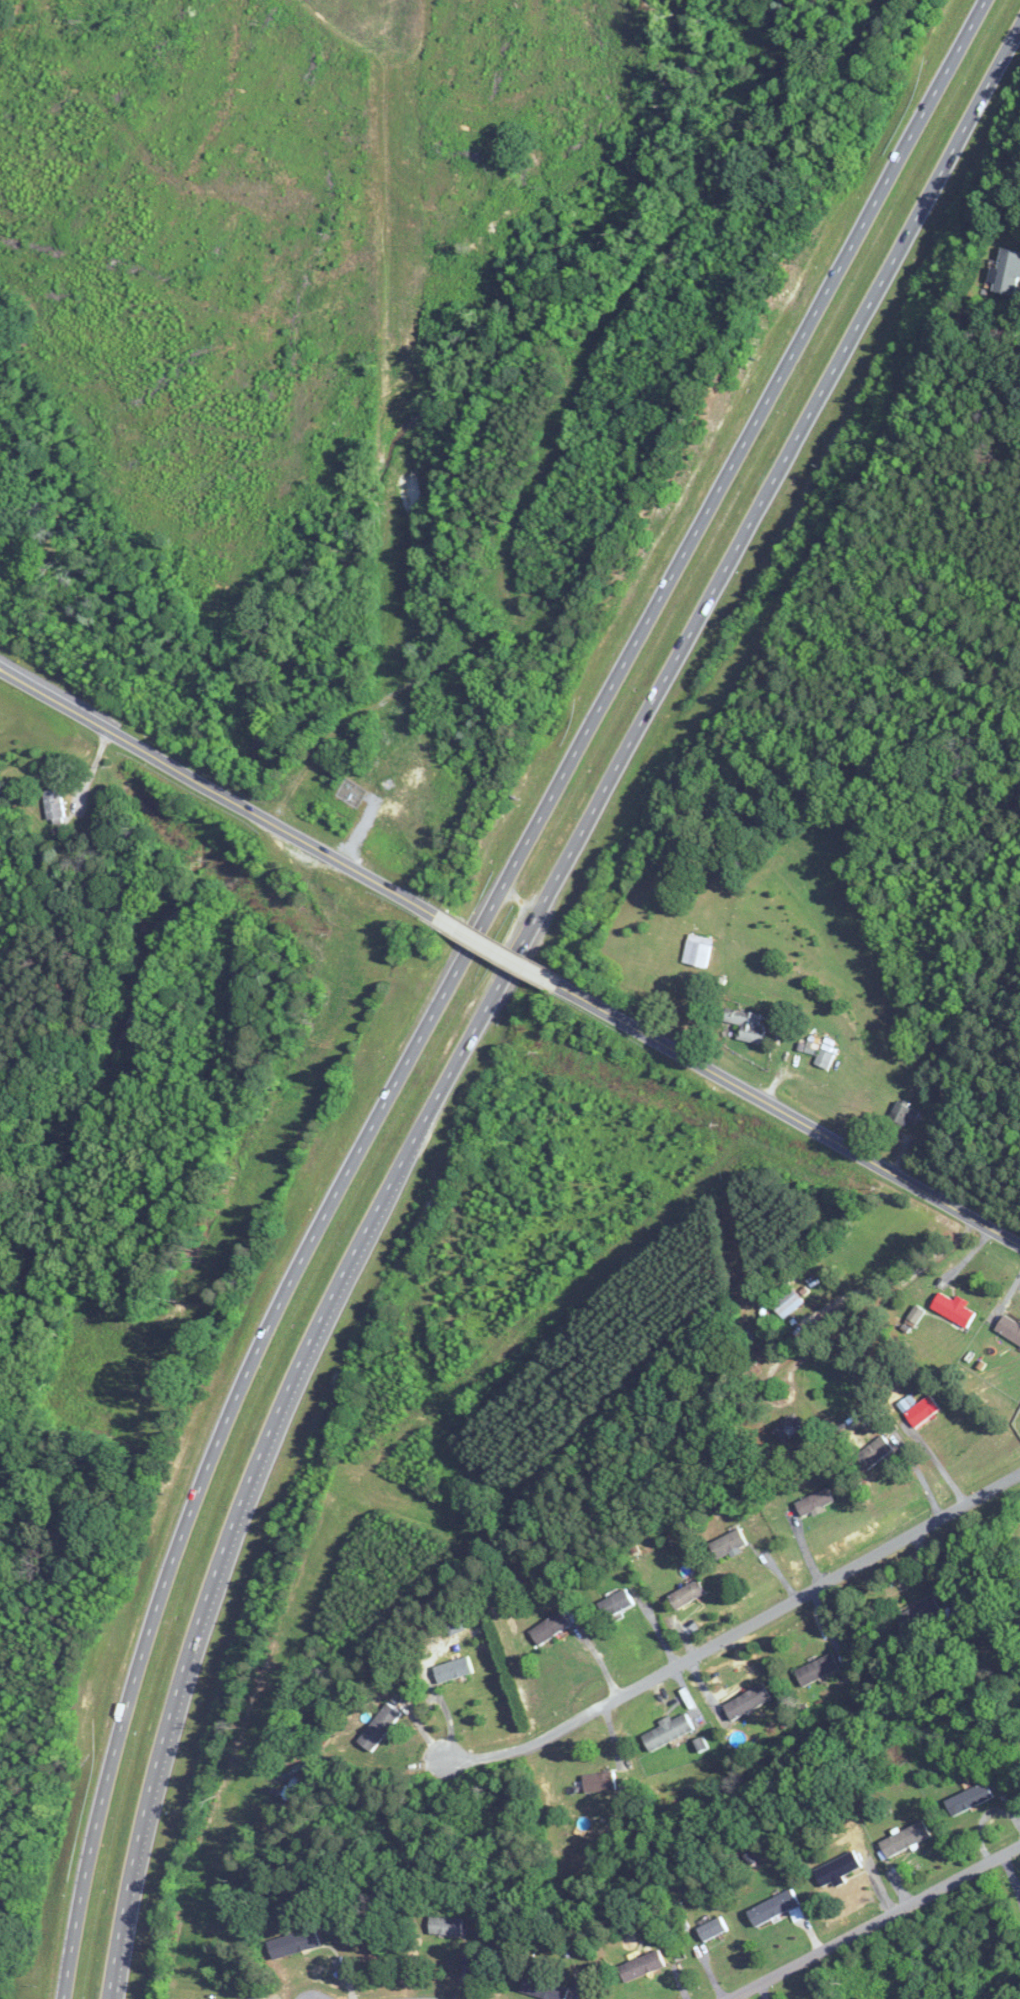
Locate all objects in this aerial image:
building: (1006, 272)
building: (739, 438)
road: (220, 787)
building: (54, 806)
road: (497, 951)
road: (451, 969)
road: (498, 985)
building: (746, 1026)
building: (820, 1056)
road: (789, 1115)
building: (901, 1116)
building: (787, 1302)
building: (953, 1309)
building: (914, 1316)
building: (1009, 1329)
building: (922, 1410)
building: (786, 1427)
building: (874, 1452)
road: (937, 1465)
building: (814, 1500)
building: (727, 1543)
building: (686, 1594)
building: (615, 1603)
building: (917, 1614)
building: (549, 1627)
road: (737, 1631)
building: (452, 1669)
building: (817, 1669)
building: (747, 1701)
building: (379, 1727)
building: (667, 1731)
building: (599, 1781)
building: (969, 1798)
building: (905, 1838)
building: (837, 1868)
building: (773, 1907)
road: (875, 1921)
building: (445, 1925)
building: (712, 1929)
building: (293, 1943)
building: (641, 1966)
building: (543, 1989)

